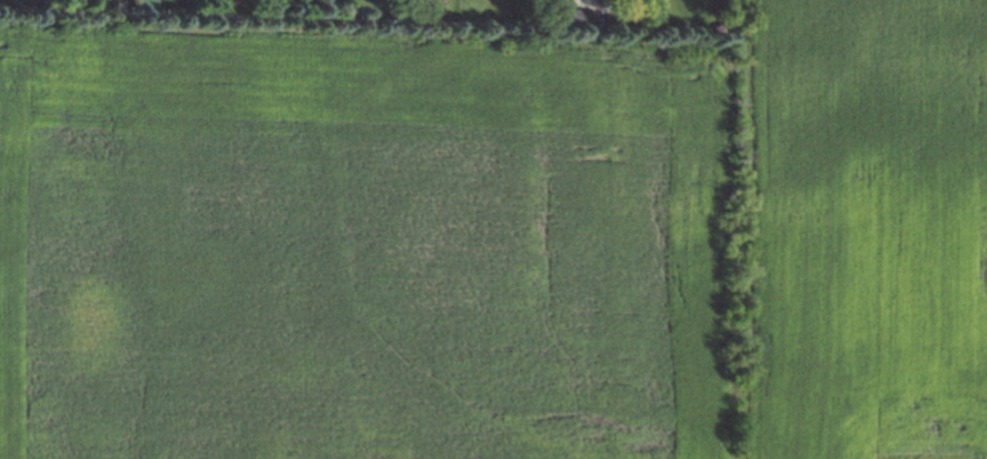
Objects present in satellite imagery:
building: (140, 6)
building: (578, 17)
building: (601, 19)

